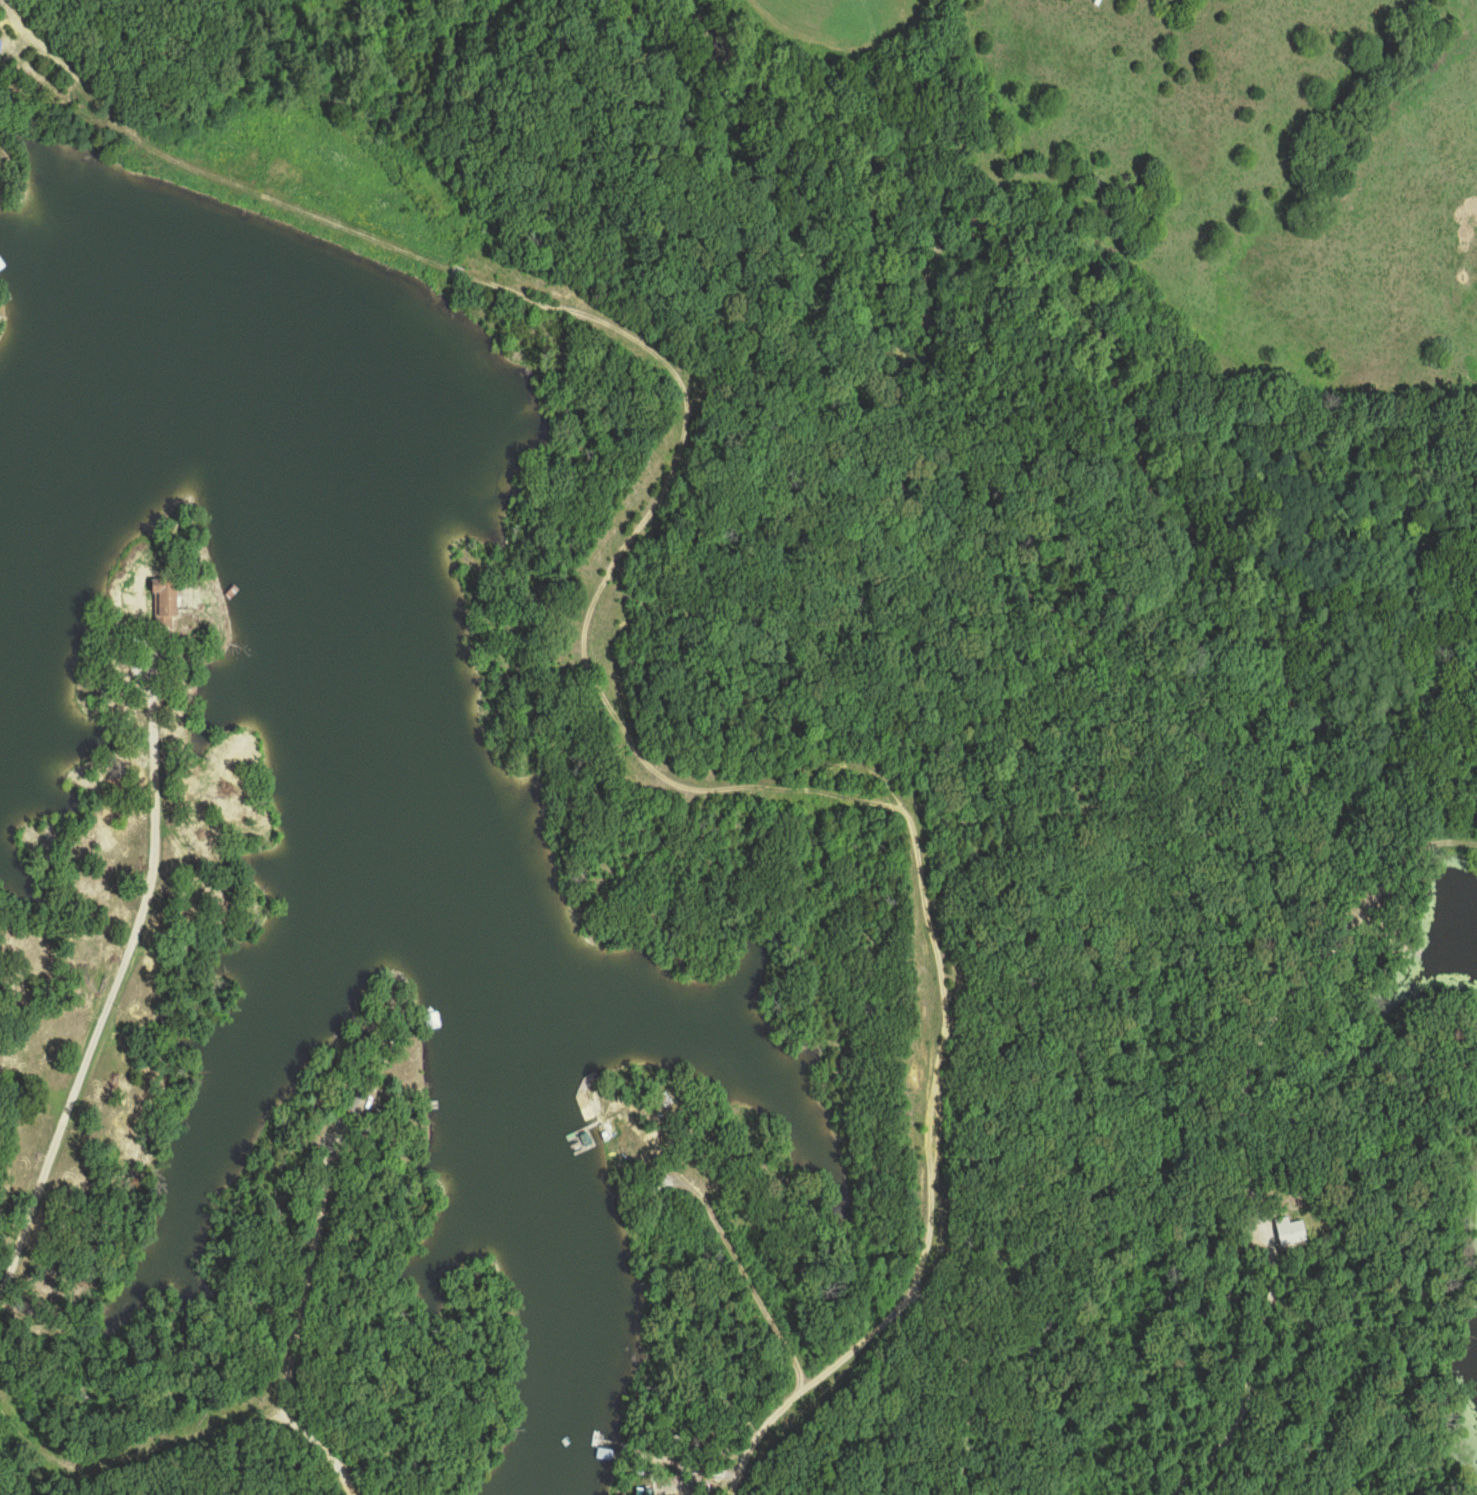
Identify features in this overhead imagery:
dam: (311, 254)
building: (4, 264)
building: (167, 597)
road: (603, 696)
road: (118, 983)
building: (433, 1021)
road: (312, 1254)
road: (185, 1433)

